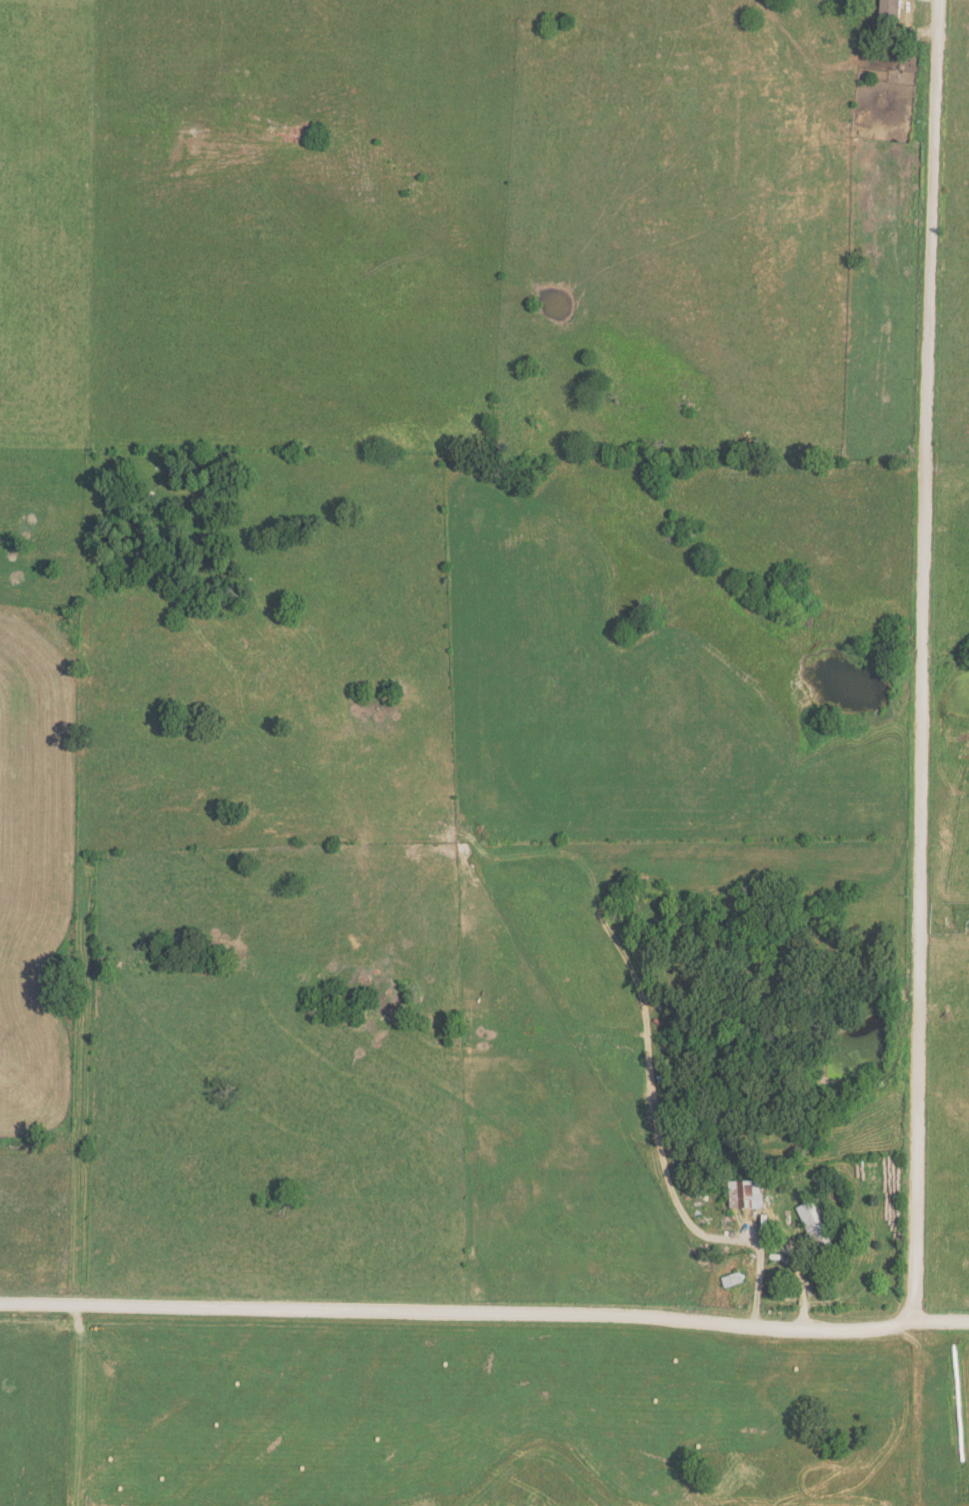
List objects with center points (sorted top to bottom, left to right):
building: (895, 9)
road: (922, 664)
building: (816, 1226)
road: (797, 1274)
road: (484, 1315)

